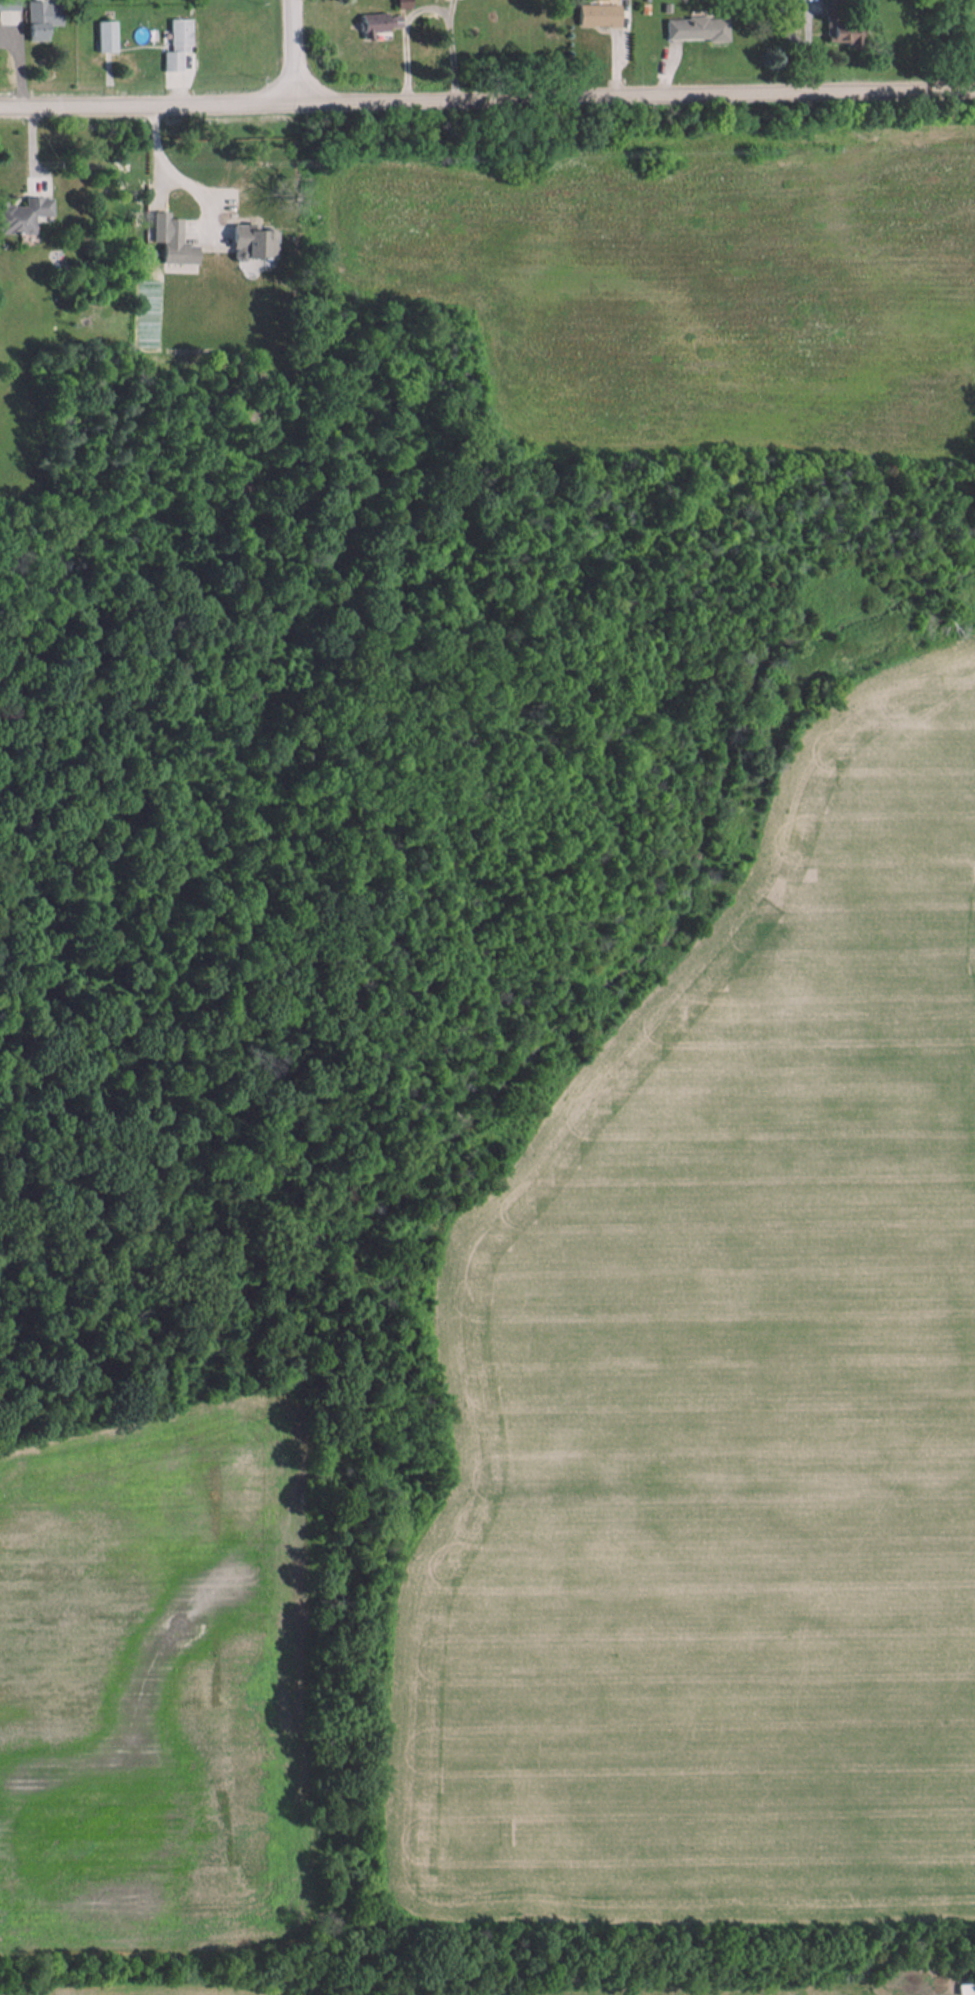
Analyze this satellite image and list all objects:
building: (9, 4)
building: (600, 14)
building: (43, 19)
building: (838, 22)
building: (698, 28)
building: (382, 30)
building: (108, 35)
road: (807, 44)
building: (179, 46)
road: (292, 48)
road: (406, 58)
road: (487, 95)
road: (174, 165)
building: (24, 214)
building: (255, 241)
building: (179, 244)
building: (967, 1989)

